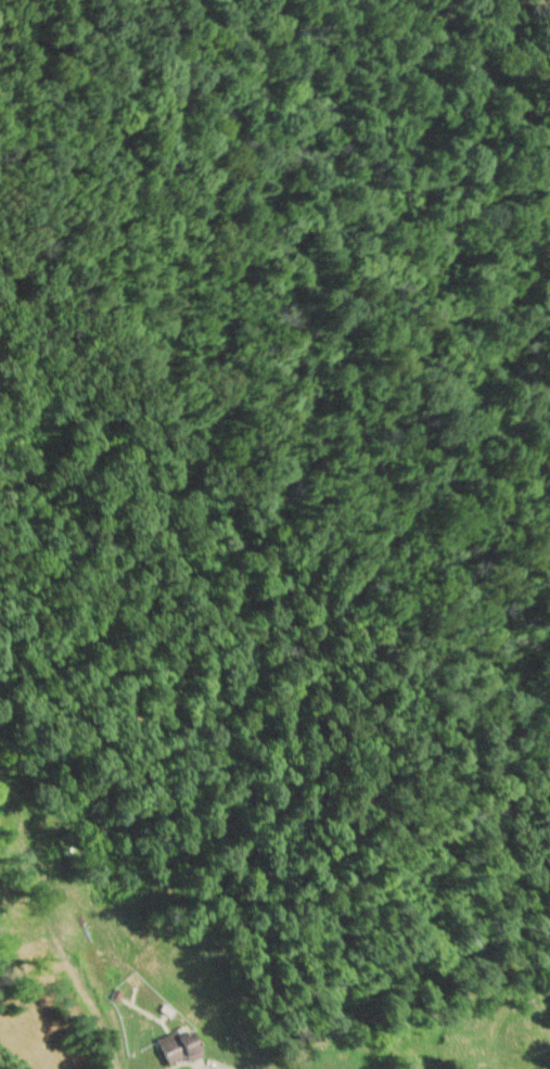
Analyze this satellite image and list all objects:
building: (184, 1045)

